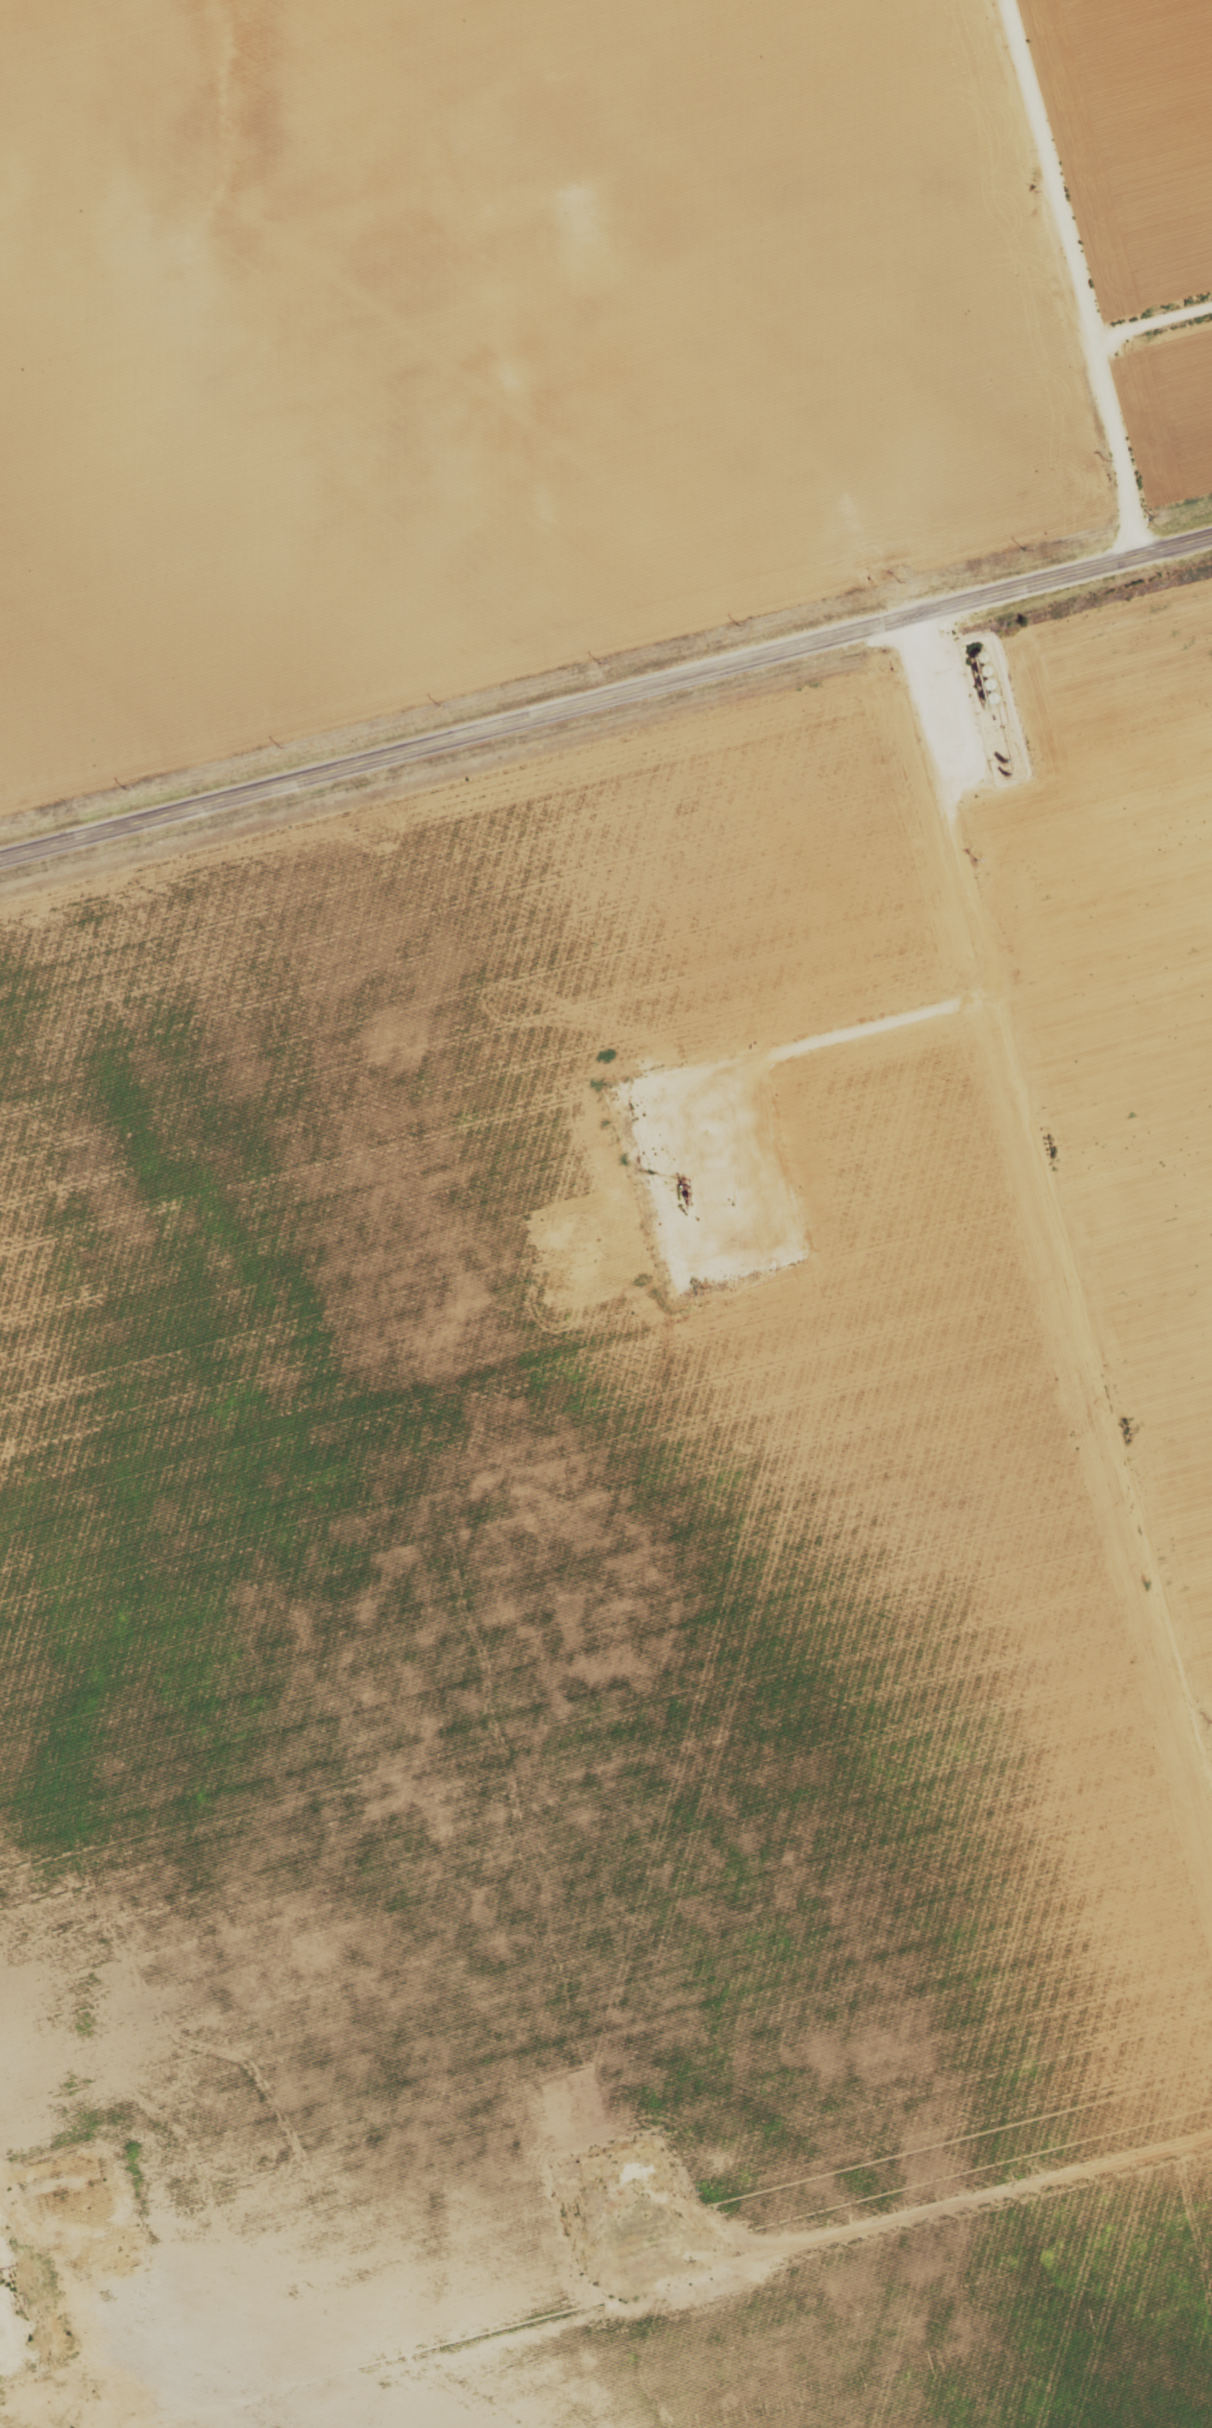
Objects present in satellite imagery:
road: (1063, 281)
road: (605, 702)

